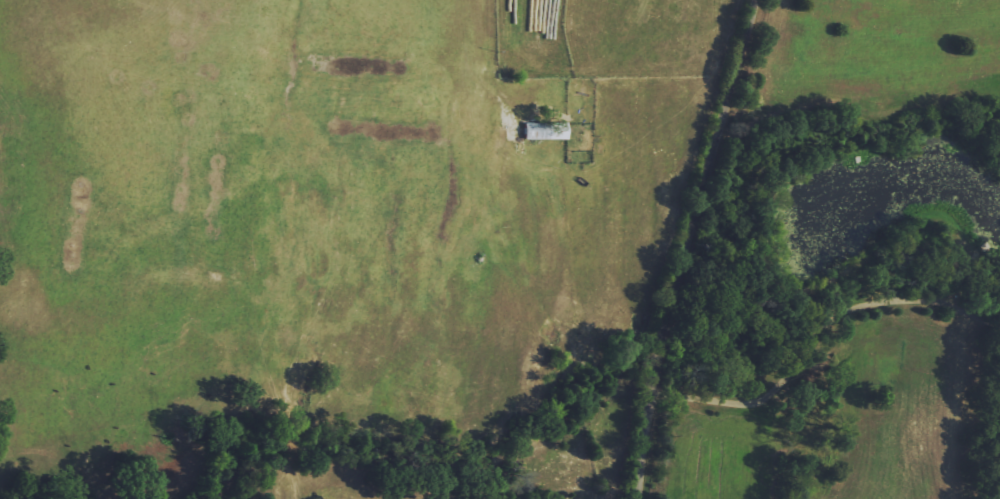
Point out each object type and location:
building: (543, 131)
road: (853, 193)
road: (692, 247)
road: (822, 318)

